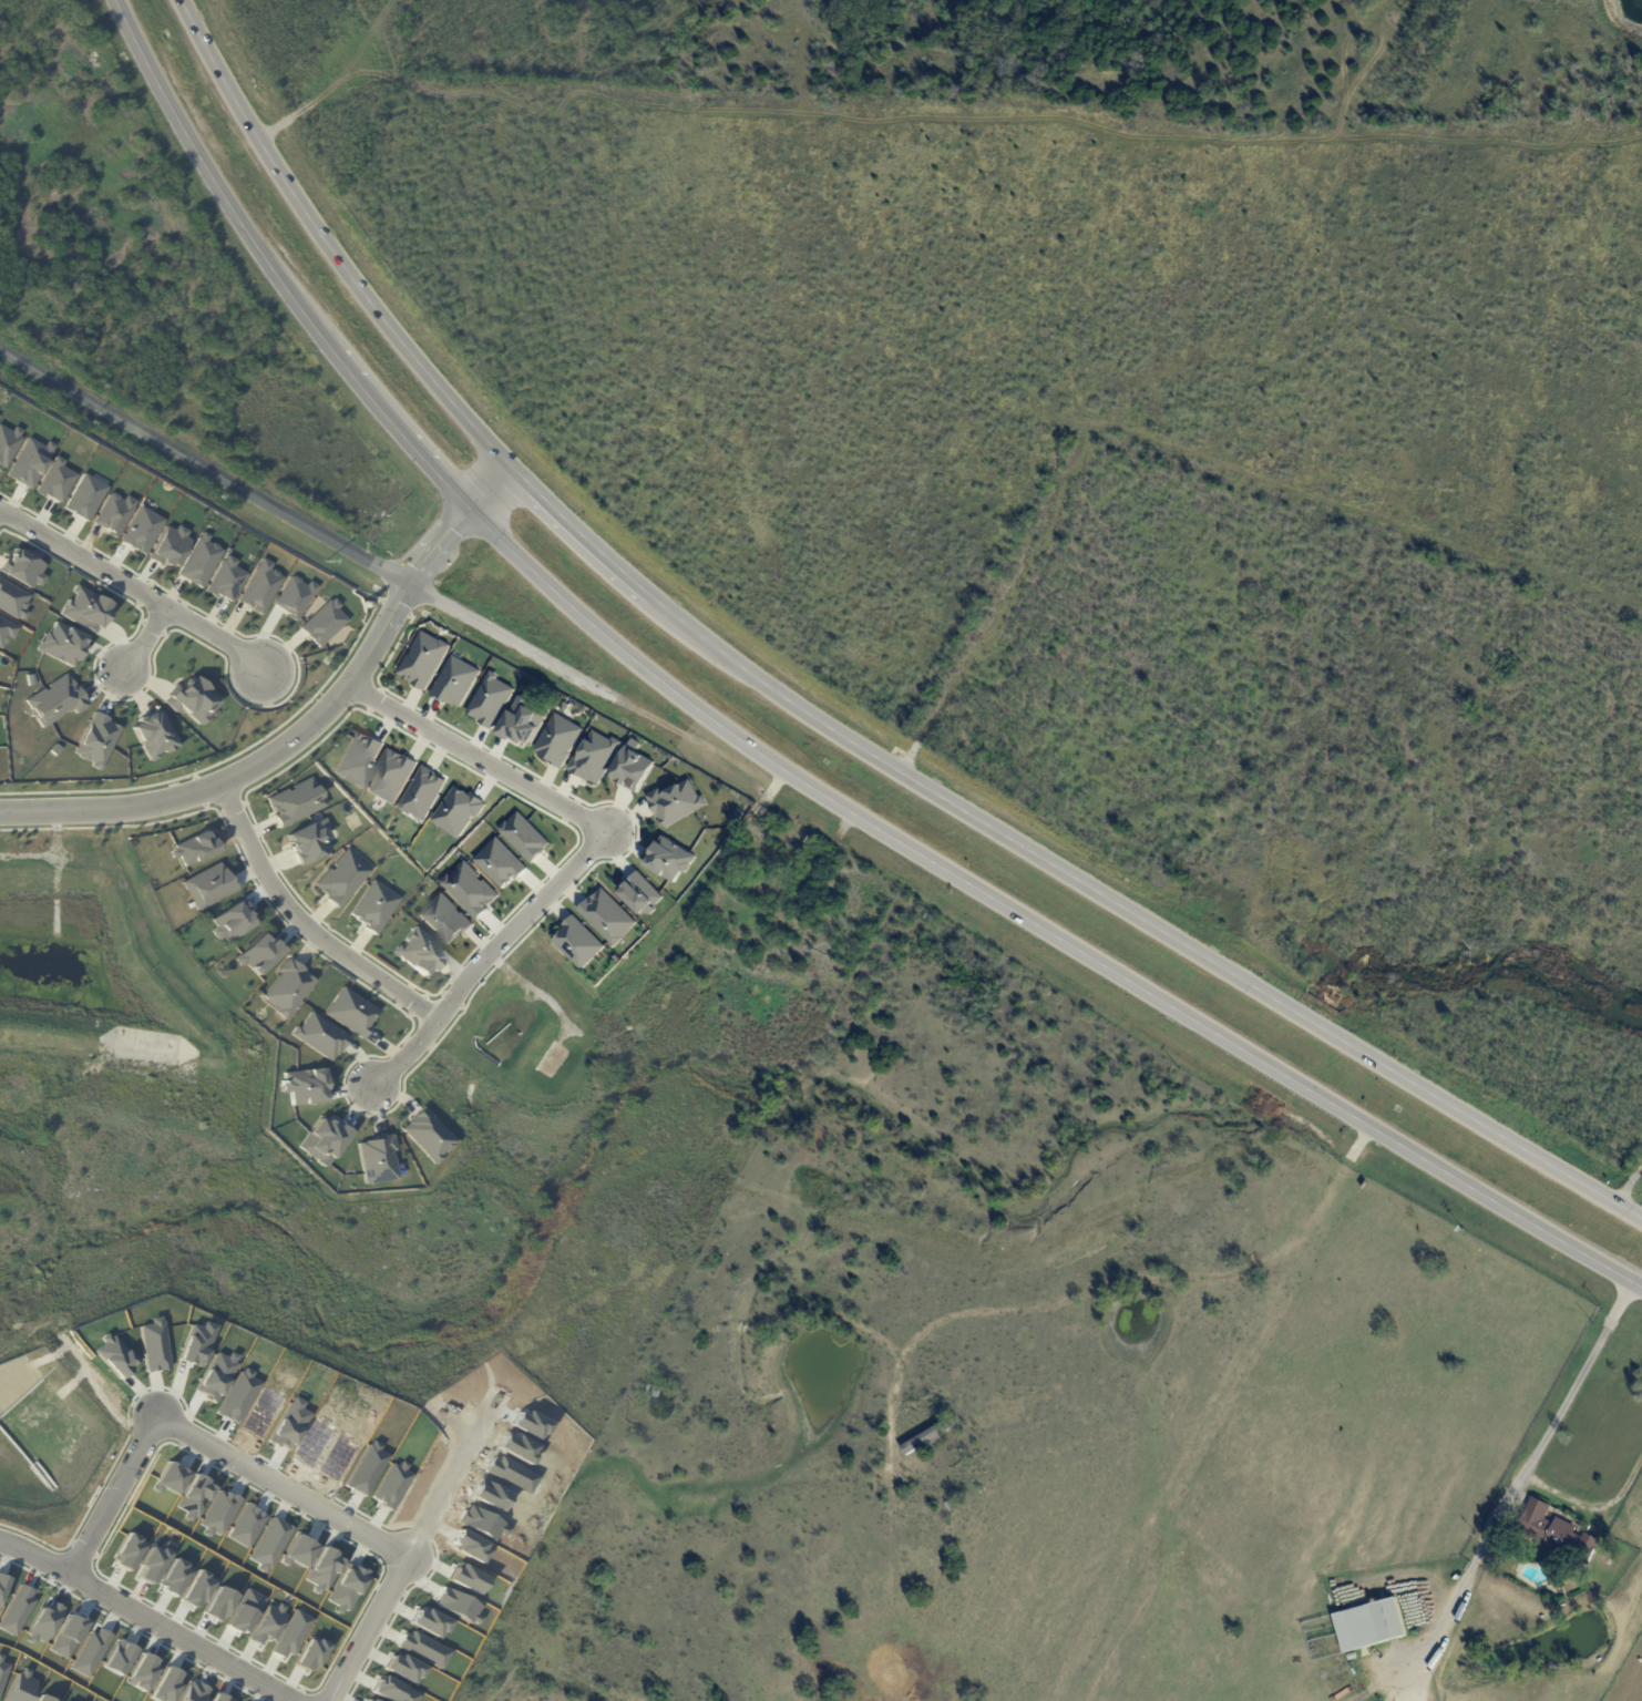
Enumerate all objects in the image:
road: (208, 178)
road: (328, 248)
road: (394, 429)
building: (9, 443)
building: (31, 461)
building: (57, 479)
road: (189, 494)
building: (85, 496)
building: (115, 512)
building: (143, 529)
road: (327, 539)
road: (583, 539)
building: (172, 546)
building: (201, 560)
building: (21, 568)
building: (227, 578)
building: (260, 586)
road: (131, 587)
building: (296, 596)
building: (12, 600)
building: (86, 608)
building: (325, 622)
building: (6, 631)
road: (144, 639)
building: (63, 643)
building: (422, 658)
building: (29, 679)
building: (453, 680)
building: (194, 697)
building: (55, 699)
building: (489, 699)
building: (521, 721)
road: (309, 728)
building: (155, 734)
building: (98, 739)
building: (557, 739)
building: (54, 749)
building: (593, 756)
building: (356, 757)
road: (479, 759)
building: (630, 766)
building: (390, 776)
building: (421, 791)
building: (293, 801)
building: (675, 801)
building: (456, 810)
building: (736, 814)
building: (523, 837)
building: (306, 840)
building: (191, 847)
building: (668, 859)
building: (499, 862)
building: (339, 877)
building: (207, 885)
building: (468, 889)
building: (638, 893)
building: (372, 905)
building: (606, 915)
building: (443, 918)
building: (230, 920)
road: (1142, 921)
road: (304, 922)
road: (1036, 925)
building: (817, 926)
building: (577, 942)
building: (418, 951)
building: (256, 953)
road: (484, 957)
building: (285, 986)
building: (348, 1011)
building: (318, 1035)
building: (300, 1086)
building: (424, 1135)
building: (320, 1140)
building: (376, 1159)
park: (453, 1161)
road: (1114, 1280)
building: (198, 1341)
building: (157, 1345)
building: (119, 1355)
building: (218, 1377)
building: (653, 1392)
building: (243, 1395)
building: (266, 1411)
road: (1553, 1421)
building: (534, 1424)
building: (293, 1425)
building: (318, 1439)
building: (930, 1439)
building: (516, 1448)
building: (342, 1455)
building: (371, 1467)
building: (514, 1473)
road: (458, 1477)
building: (172, 1478)
road: (290, 1483)
building: (396, 1483)
road: (121, 1494)
building: (493, 1494)
building: (196, 1495)
building: (950, 1503)
road: (1591, 1505)
building: (220, 1512)
building: (484, 1521)
building: (247, 1525)
building: (1549, 1529)
building: (269, 1543)
building: (1593, 1545)
building: (473, 1546)
building: (300, 1550)
building: (130, 1551)
building: (154, 1564)
building: (324, 1569)
building: (176, 1577)
building: (471, 1578)
building: (2, 1587)
building: (348, 1588)
building: (198, 1590)
building: (220, 1602)
building: (461, 1605)
building: (17, 1609)
building: (247, 1610)
road: (154, 1616)
road: (1441, 1620)
building: (432, 1621)
building: (43, 1623)
building: (268, 1625)
road: (374, 1627)
building: (1373, 1627)
building: (293, 1633)
building: (68, 1637)
building: (427, 1650)
building: (90, 1651)
building: (314, 1651)
building: (119, 1657)
building: (1354, 1658)
building: (408, 1669)
building: (143, 1671)
building: (2, 1673)
building: (167, 1683)
building: (21, 1690)
building: (194, 1691)
building: (397, 1691)
building: (44, 1698)
building: (217, 1698)
building: (373, 1700)

